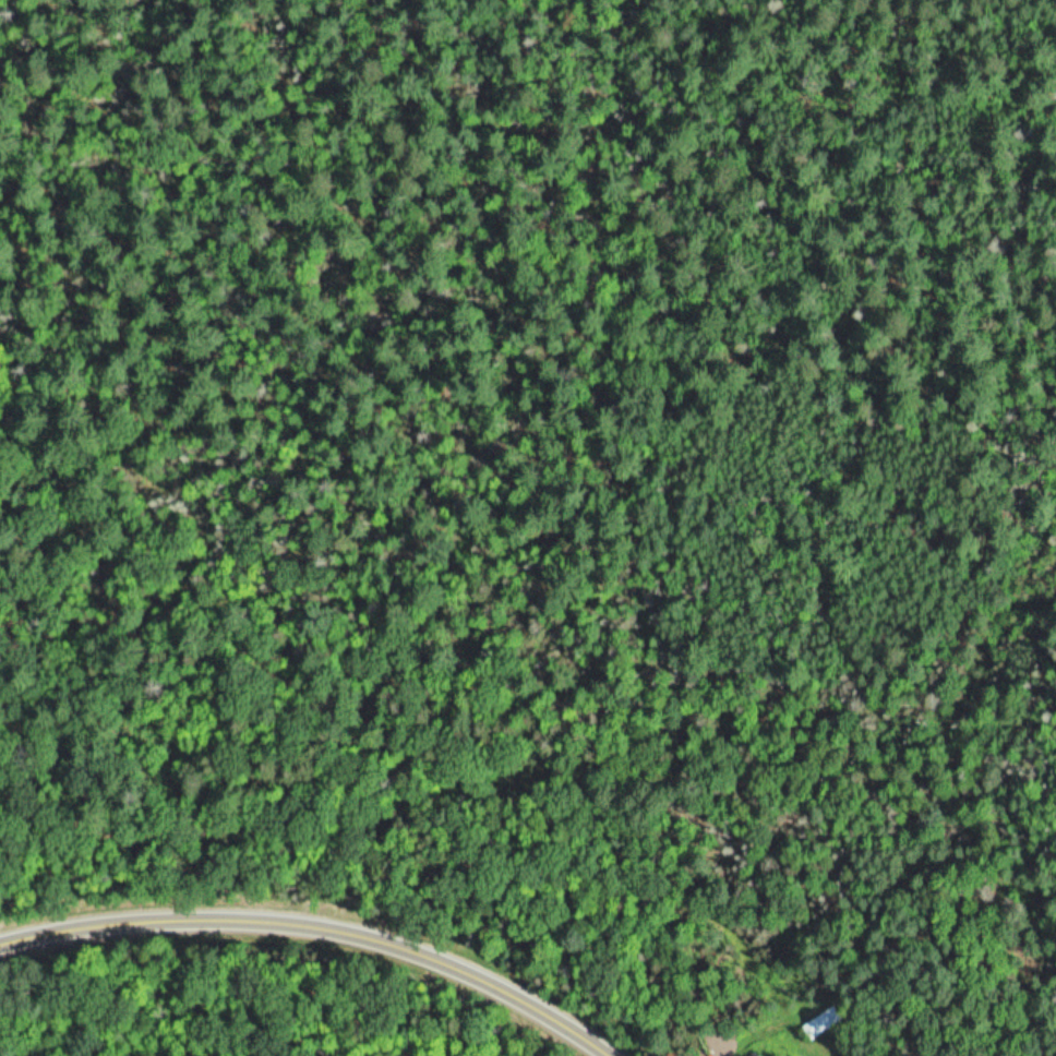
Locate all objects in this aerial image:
road: (322, 922)
building: (823, 1022)
building: (756, 1055)

